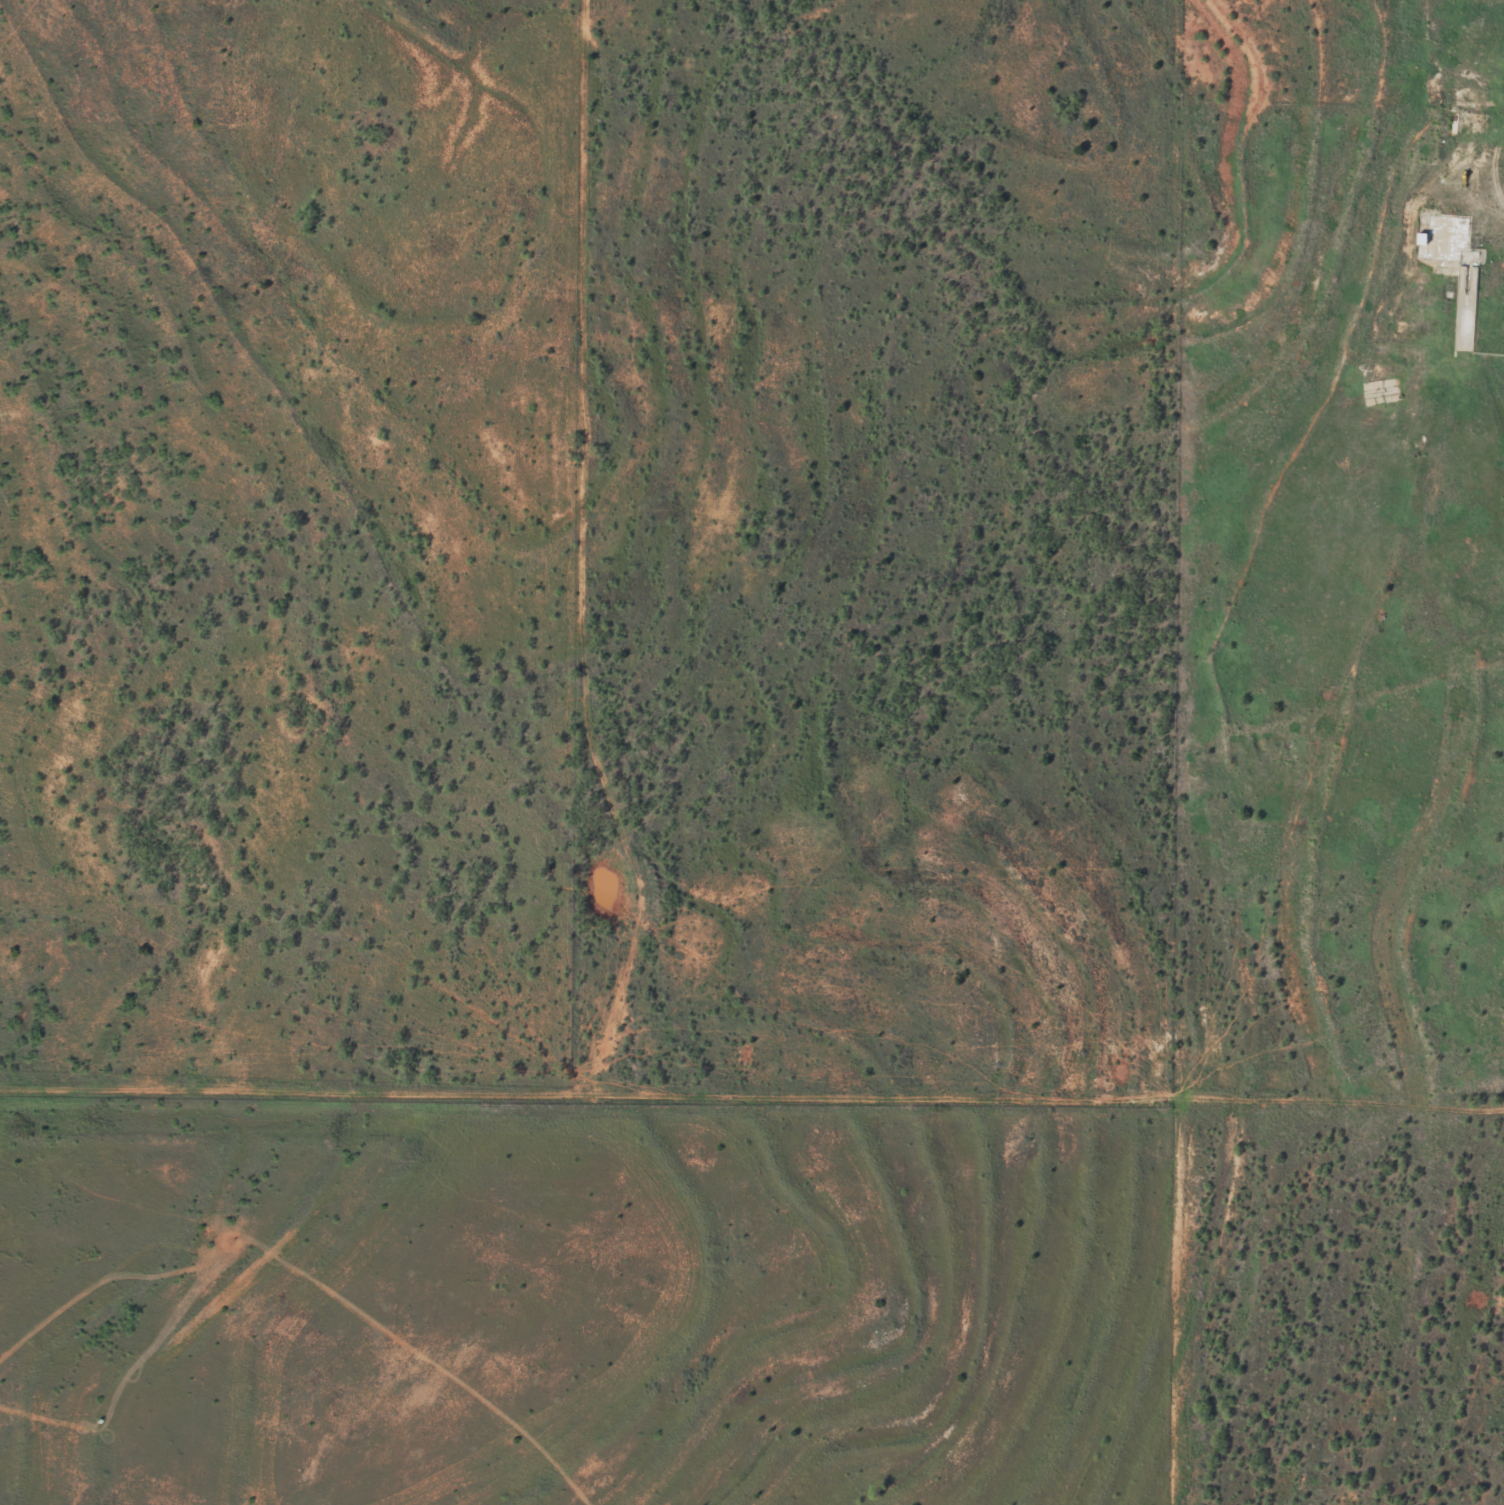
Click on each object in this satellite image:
building: (1473, 125)
building: (1458, 268)
road: (752, 1124)

